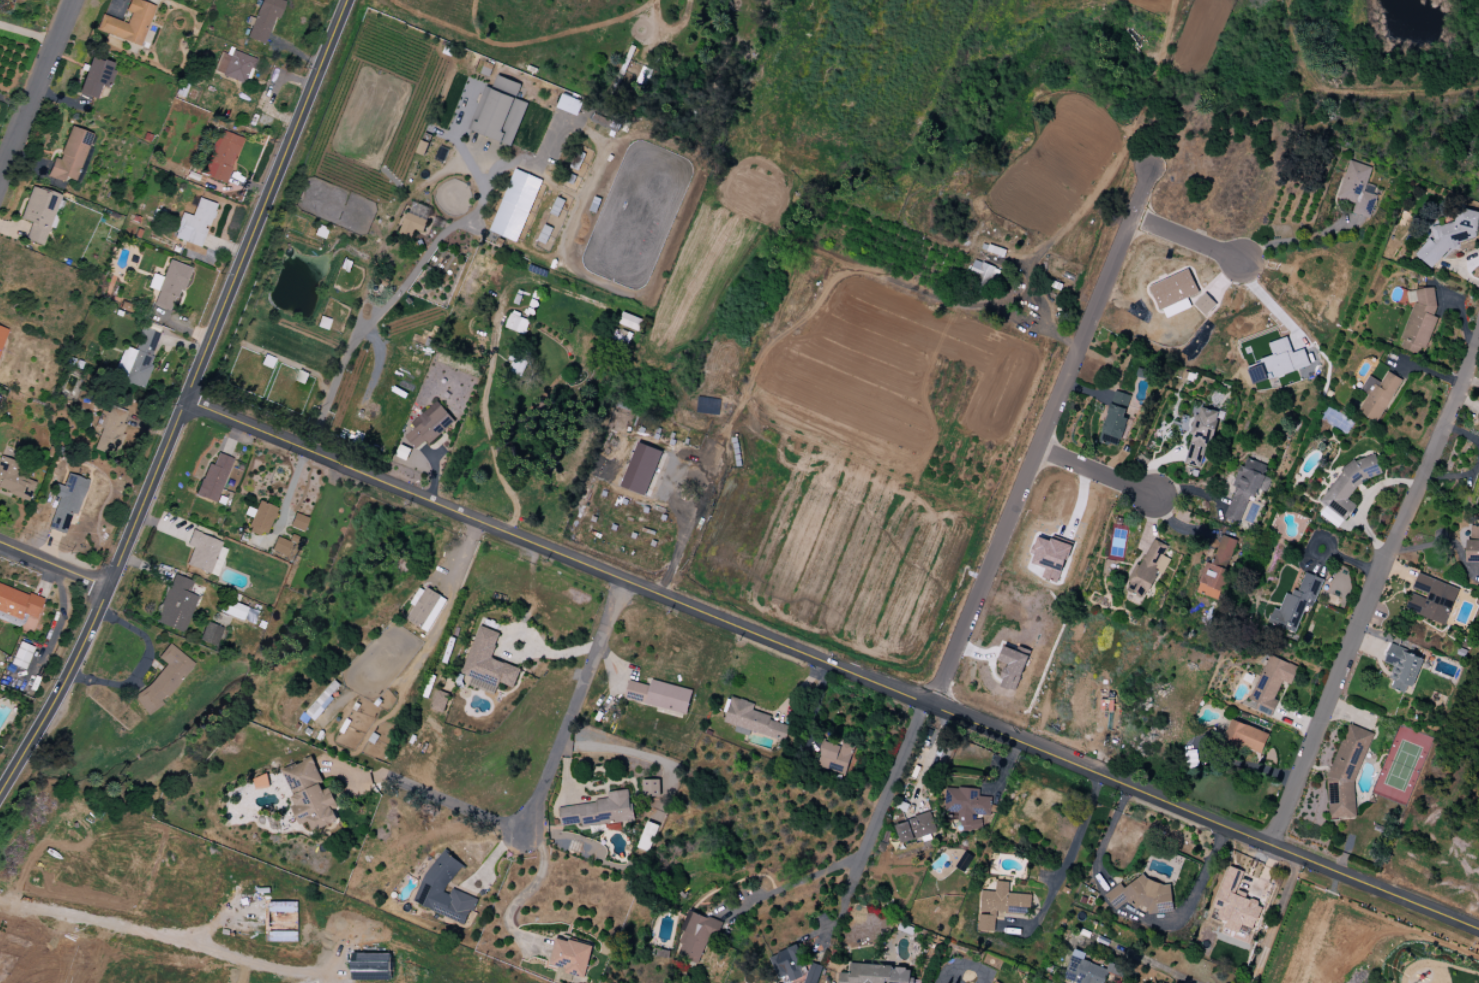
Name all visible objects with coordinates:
building: (264, 22)
building: (129, 23)
road: (673, 32)
building: (238, 67)
building: (95, 77)
road: (34, 89)
building: (569, 104)
building: (499, 111)
building: (70, 157)
building: (222, 157)
road: (519, 165)
building: (1357, 189)
building: (515, 205)
building: (38, 214)
building: (194, 224)
building: (413, 224)
building: (1451, 236)
road: (1186, 238)
road: (1296, 238)
building: (997, 250)
building: (984, 273)
building: (171, 284)
building: (1173, 293)
building: (1204, 304)
road: (1273, 305)
road: (802, 317)
road: (375, 319)
building: (630, 321)
building: (517, 324)
building: (1420, 324)
building: (2, 335)
road: (377, 360)
building: (135, 361)
building: (1279, 362)
road: (1470, 377)
building: (1380, 396)
road: (1466, 400)
road: (182, 401)
building: (707, 406)
road: (486, 417)
building: (1115, 421)
building: (431, 425)
building: (111, 430)
road: (1041, 435)
building: (1201, 438)
building: (641, 468)
road: (1095, 472)
building: (214, 479)
building: (14, 482)
building: (1350, 486)
building: (1247, 488)
building: (63, 506)
building: (260, 519)
building: (298, 523)
road: (511, 524)
building: (293, 539)
road: (1326, 541)
building: (1473, 546)
building: (280, 547)
building: (203, 552)
building: (1049, 556)
road: (1342, 558)
road: (53, 565)
building: (1216, 571)
building: (1147, 572)
road: (1374, 585)
building: (1432, 600)
building: (177, 605)
building: (1296, 605)
building: (20, 608)
building: (425, 608)
building: (232, 610)
building: (210, 634)
building: (21, 656)
building: (488, 661)
road: (831, 663)
building: (1011, 667)
building: (1402, 668)
building: (164, 682)
building: (1270, 685)
building: (659, 696)
building: (440, 701)
building: (320, 704)
road: (574, 705)
building: (753, 720)
building: (1247, 737)
building: (835, 756)
building: (1347, 773)
building: (261, 782)
building: (651, 787)
building: (309, 794)
road: (442, 799)
building: (967, 806)
building: (597, 811)
road: (876, 818)
building: (916, 827)
road: (1081, 833)
building: (647, 836)
road: (1104, 837)
road: (791, 884)
building: (444, 891)
road: (525, 891)
building: (1142, 895)
road: (1188, 901)
building: (1235, 904)
building: (1001, 905)
building: (284, 907)
road: (1277, 920)
building: (697, 935)
road: (167, 939)
building: (570, 957)
road: (1142, 960)
building: (788, 964)
road: (959, 964)
building: (371, 966)
building: (1083, 970)
building: (813, 973)
building: (875, 974)

